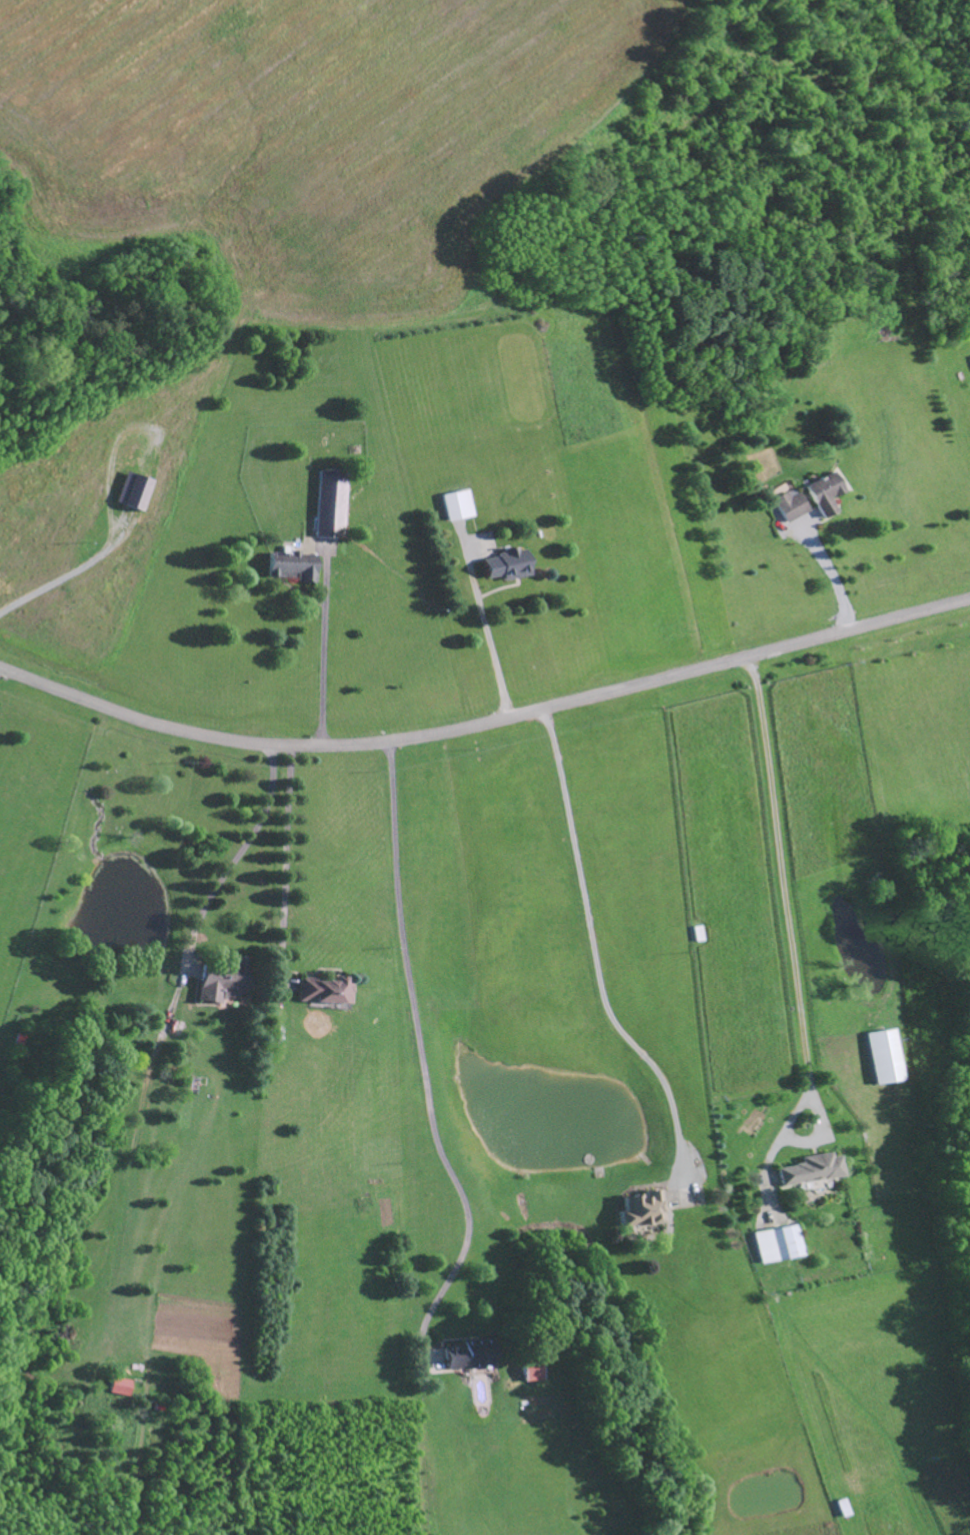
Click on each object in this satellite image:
building: (135, 492)
building: (823, 494)
building: (460, 506)
building: (790, 506)
building: (294, 566)
building: (509, 566)
road: (832, 575)
road: (67, 577)
road: (488, 633)
road: (326, 647)
road: (485, 723)
road: (115, 760)
road: (227, 772)
road: (285, 869)
road: (222, 881)
road: (784, 889)
road: (594, 951)
building: (220, 983)
building: (321, 992)
road: (420, 1049)
building: (882, 1057)
building: (810, 1171)
building: (642, 1211)
building: (777, 1245)
building: (526, 1370)
building: (119, 1388)

